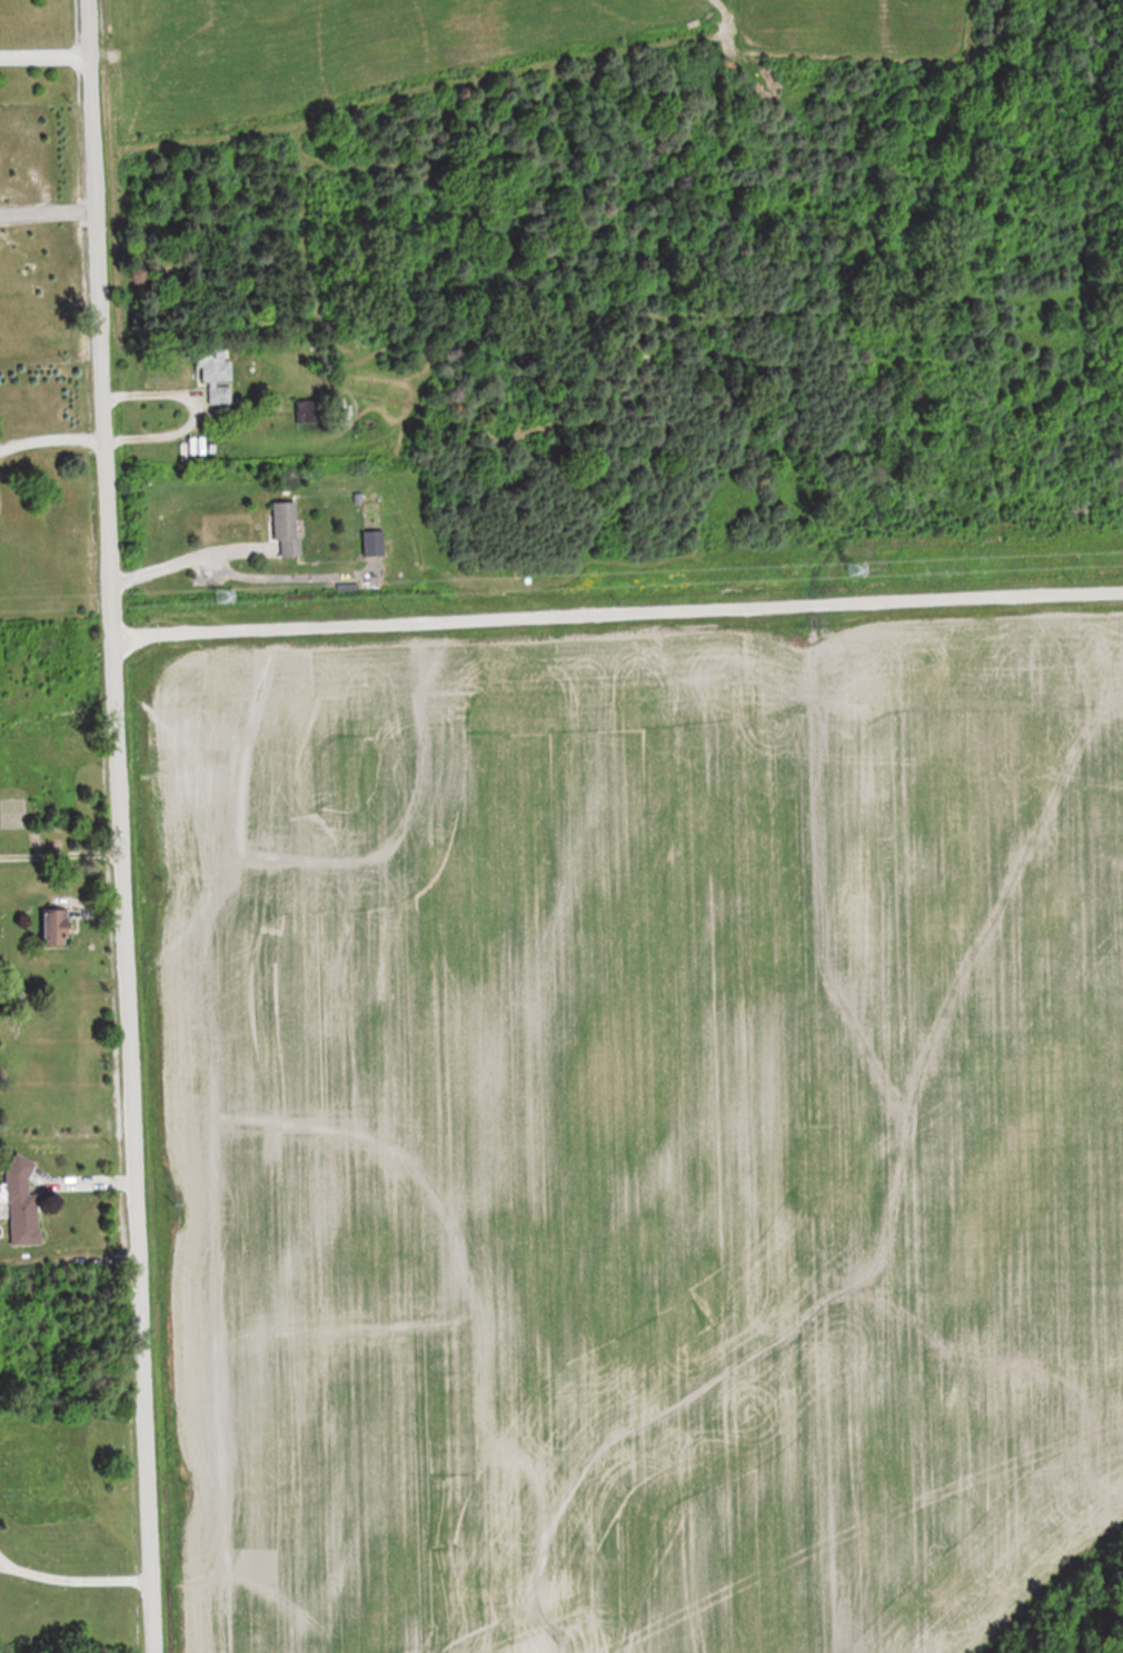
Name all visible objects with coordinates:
road: (42, 60)
road: (44, 216)
building: (216, 375)
road: (187, 406)
building: (308, 412)
road: (49, 442)
building: (0, 500)
building: (287, 528)
building: (374, 544)
road: (179, 557)
power tower: (855, 569)
power tower: (233, 599)
road: (614, 609)
road: (116, 826)
building: (57, 927)
building: (21, 1204)
road: (73, 1581)

